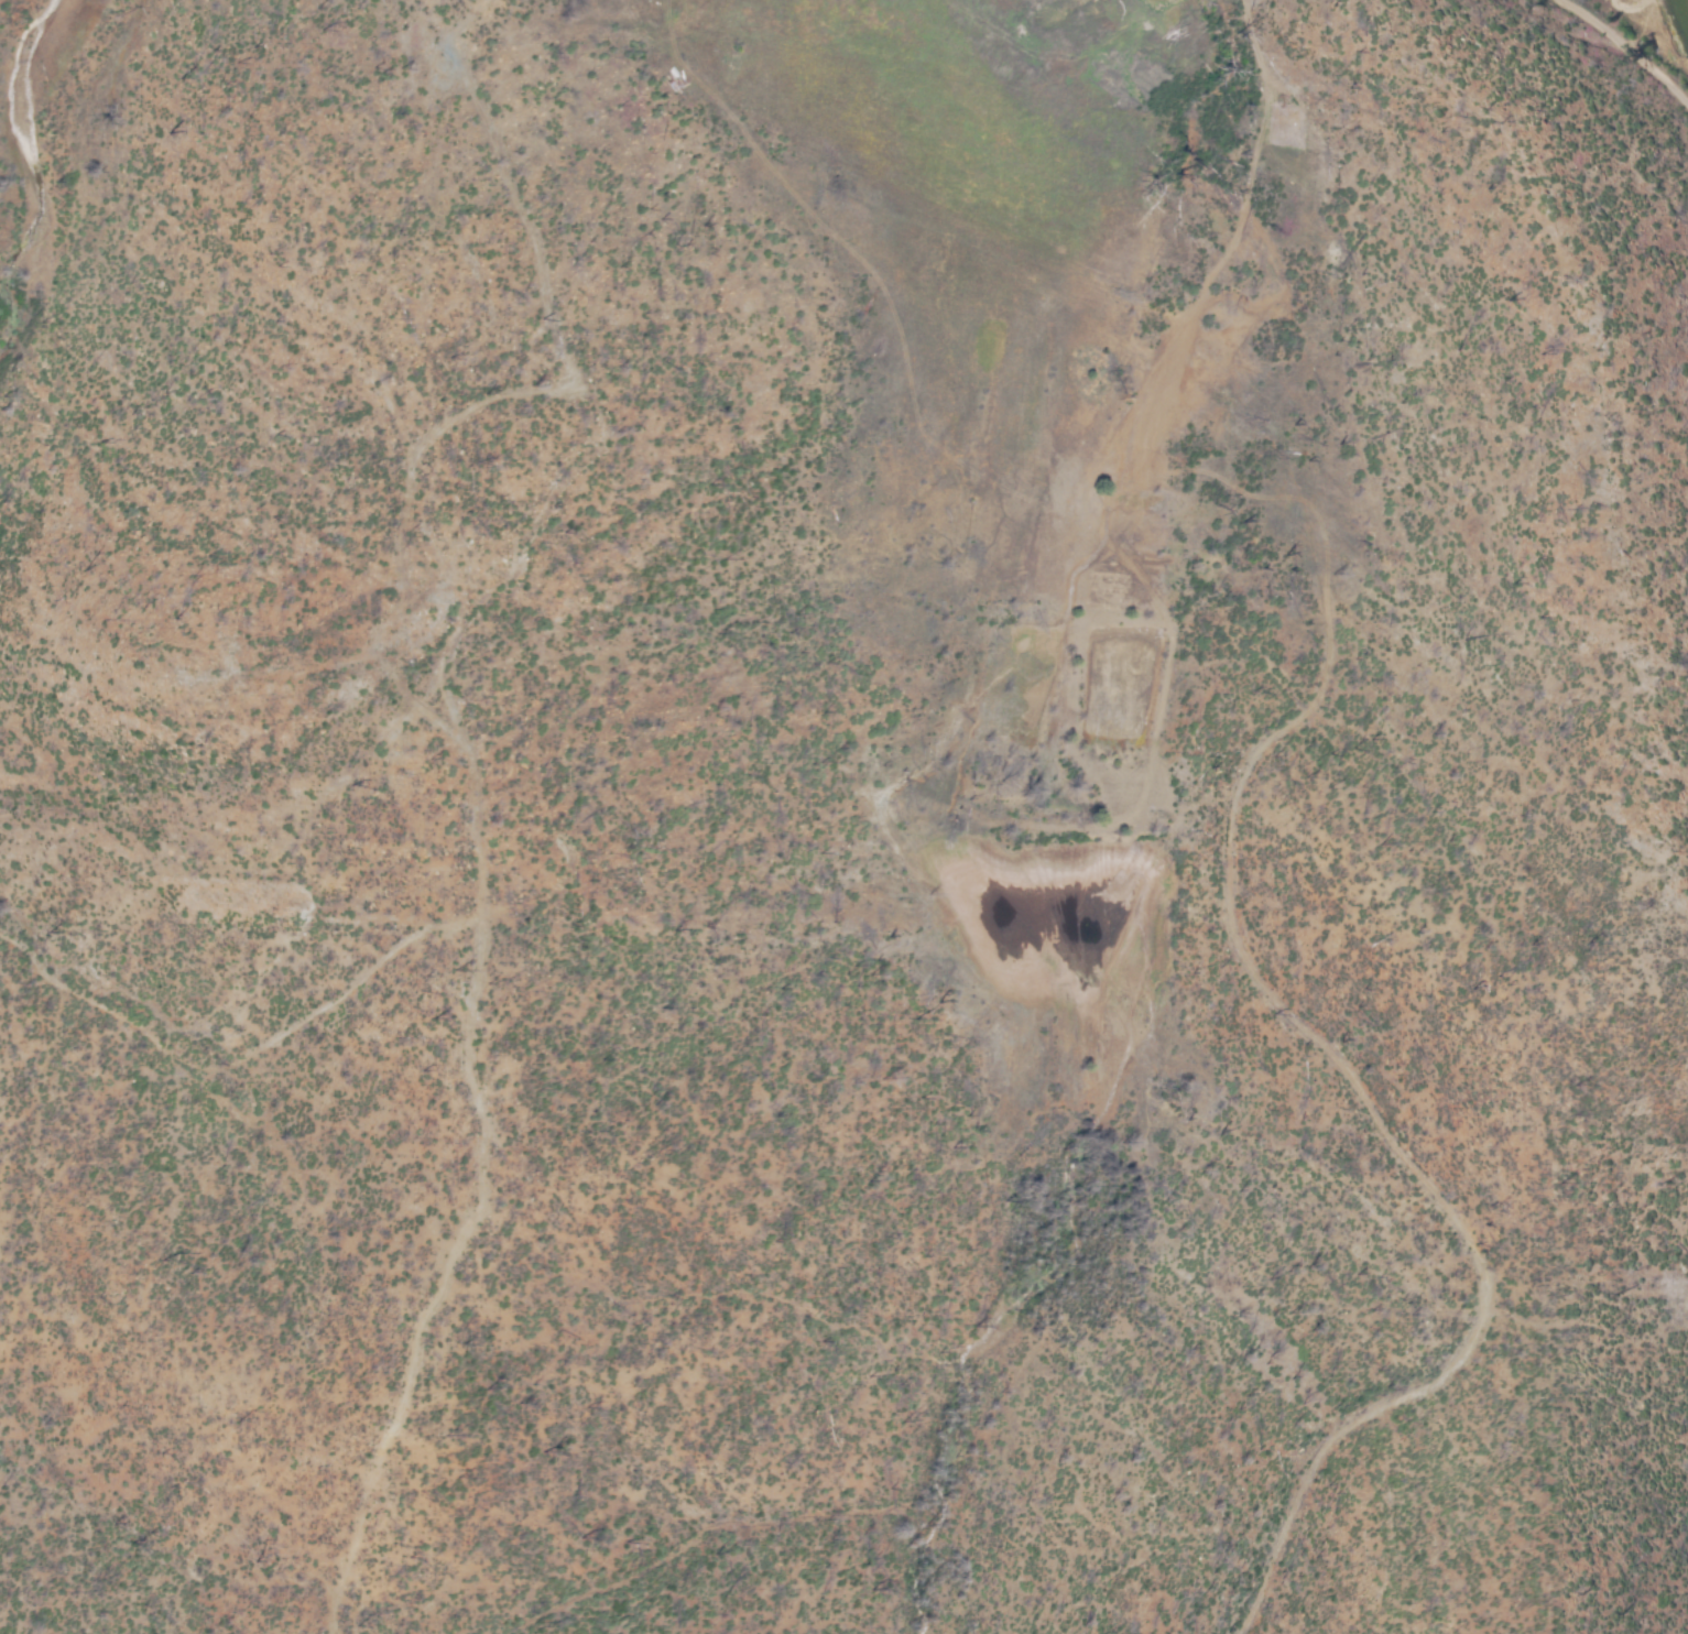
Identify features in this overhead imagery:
road: (1237, 26)
road: (1607, 31)
road: (1668, 84)
road: (453, 736)
road: (1228, 869)
road: (238, 1060)

